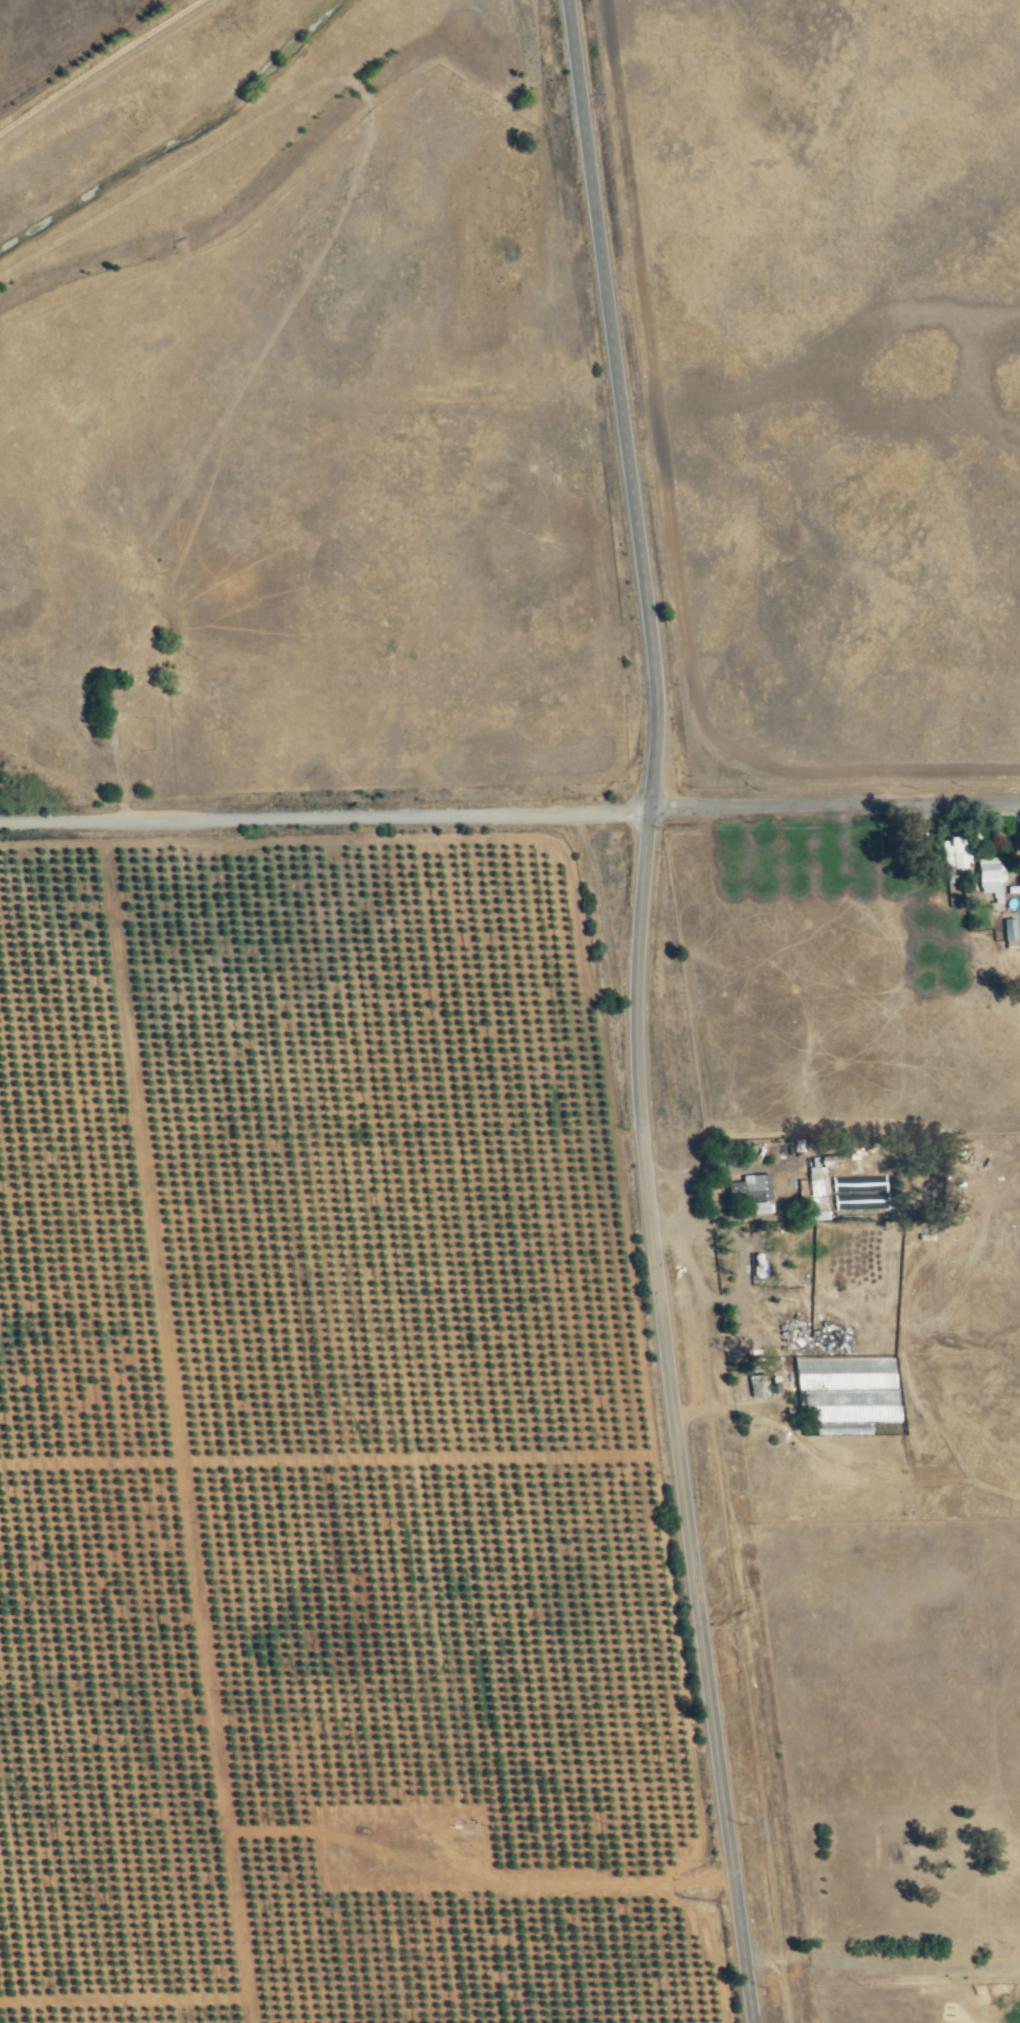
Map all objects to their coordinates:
road: (833, 804)
road: (324, 819)
road: (635, 1011)
building: (817, 1177)
building: (759, 1188)
building: (819, 1207)

